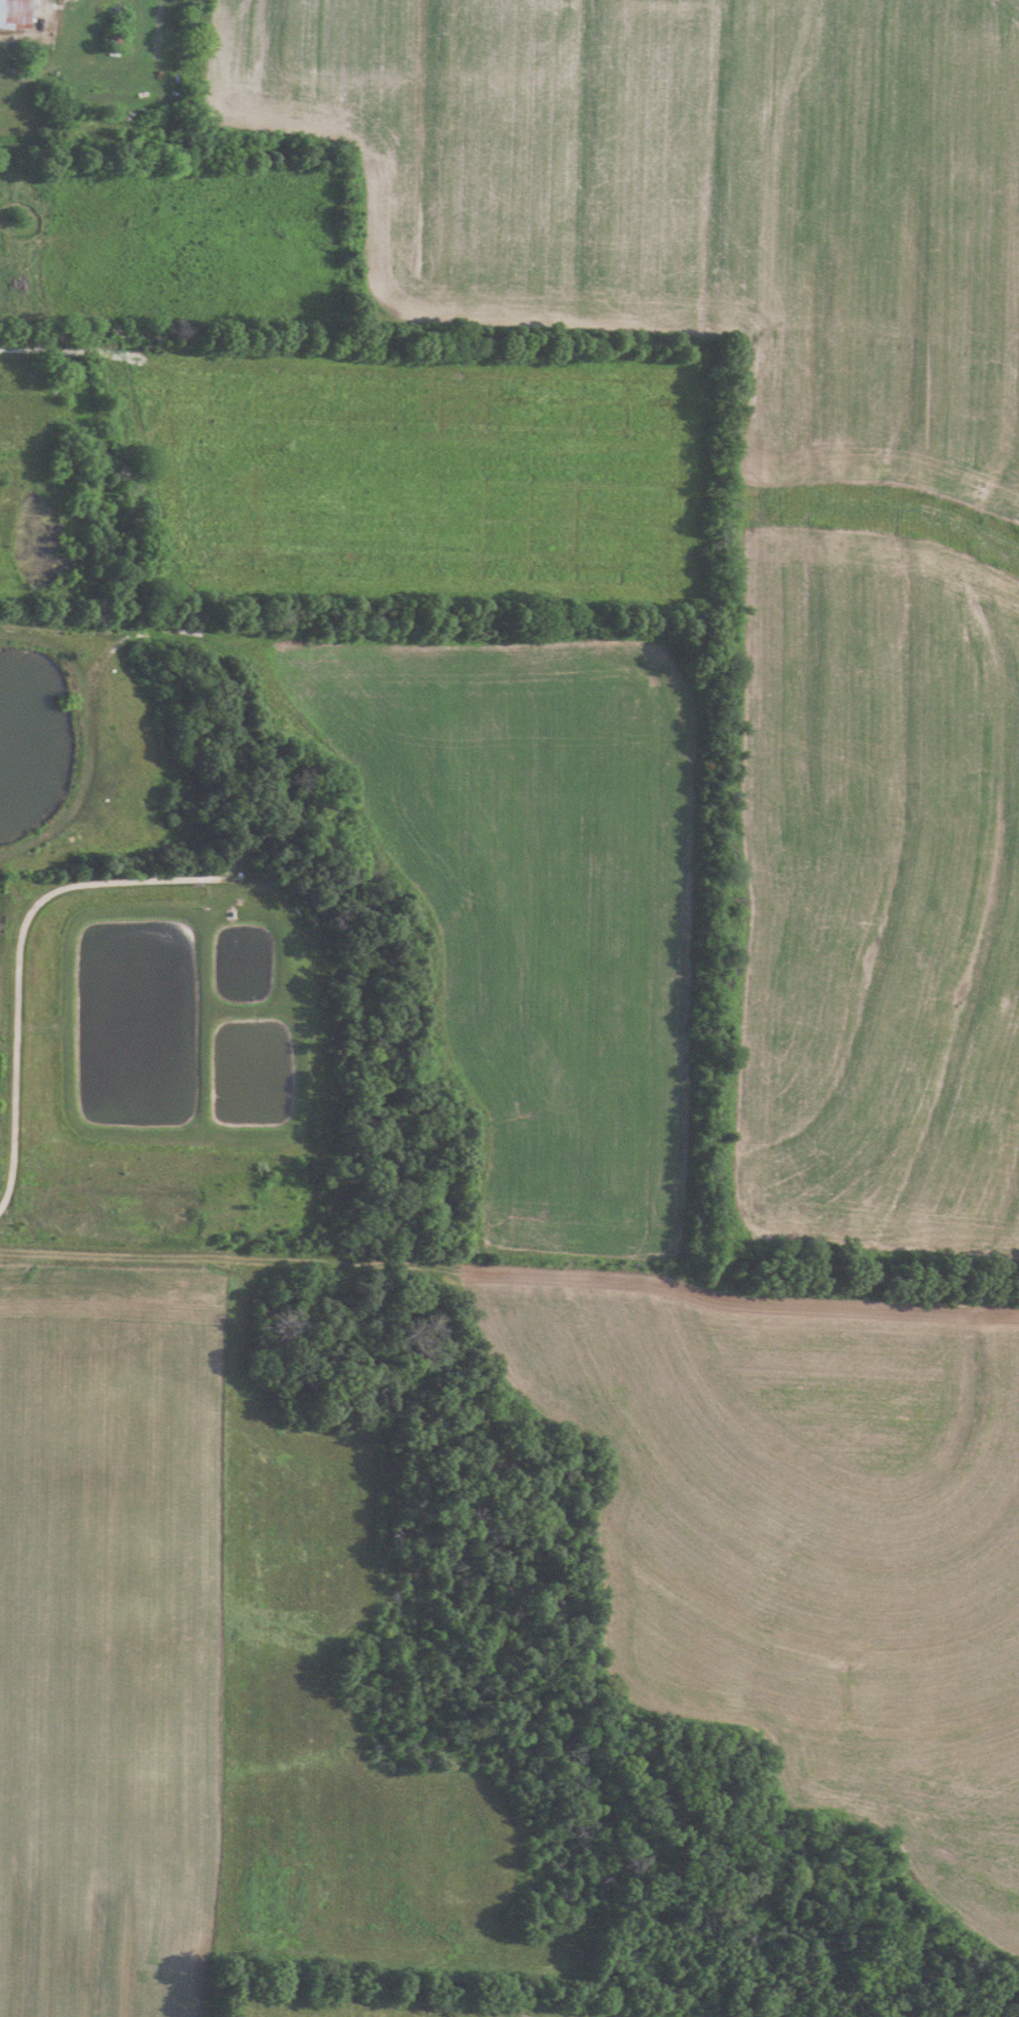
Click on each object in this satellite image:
building: (16, 15)
road: (24, 956)

